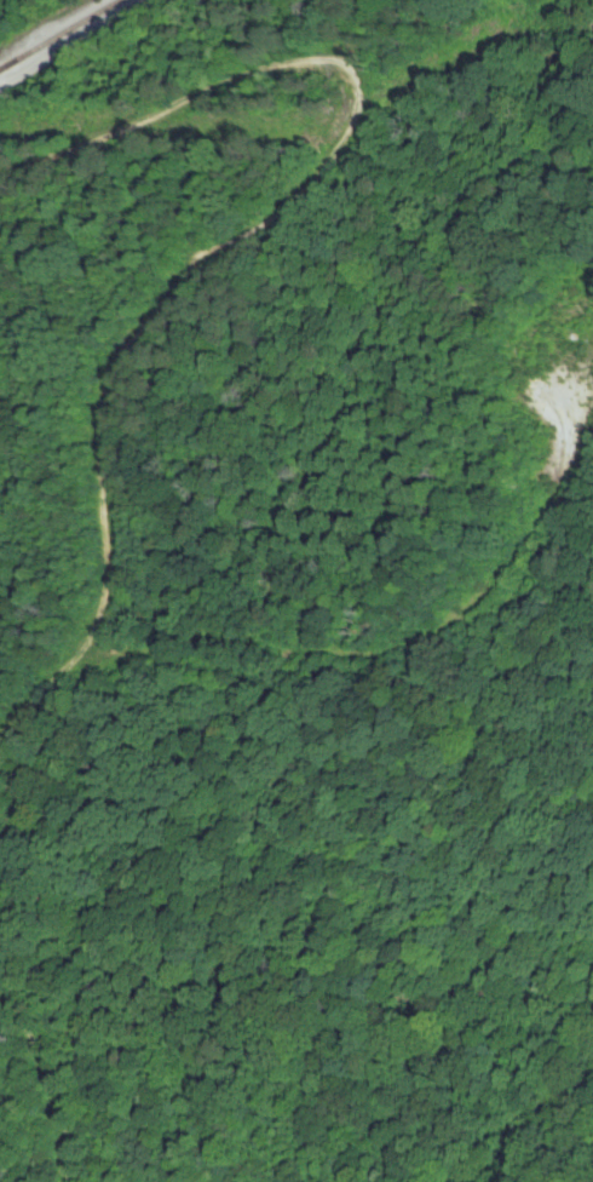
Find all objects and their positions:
railway: (47, 28)
road: (80, 41)
road: (140, 581)

